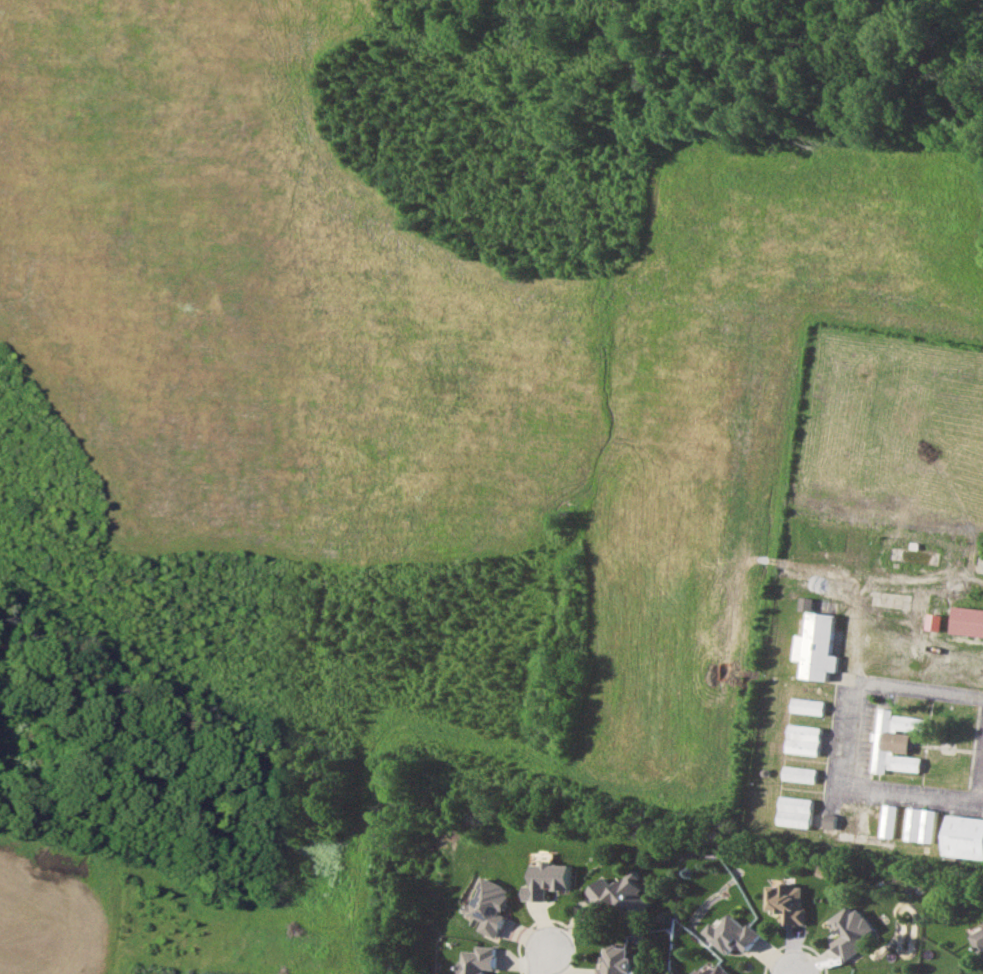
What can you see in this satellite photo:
building: (807, 603)
building: (967, 620)
building: (933, 621)
building: (815, 646)
building: (805, 706)
building: (802, 739)
road: (843, 741)
building: (893, 741)
building: (798, 773)
building: (794, 810)
building: (887, 820)
building: (829, 821)
building: (920, 824)
railway: (477, 836)
building: (964, 836)
building: (548, 879)
building: (621, 894)
building: (789, 902)
building: (491, 905)
road: (527, 927)
building: (852, 930)
building: (734, 934)
building: (979, 938)
road: (794, 944)
building: (479, 959)
road: (540, 960)
building: (616, 960)
building: (718, 970)

